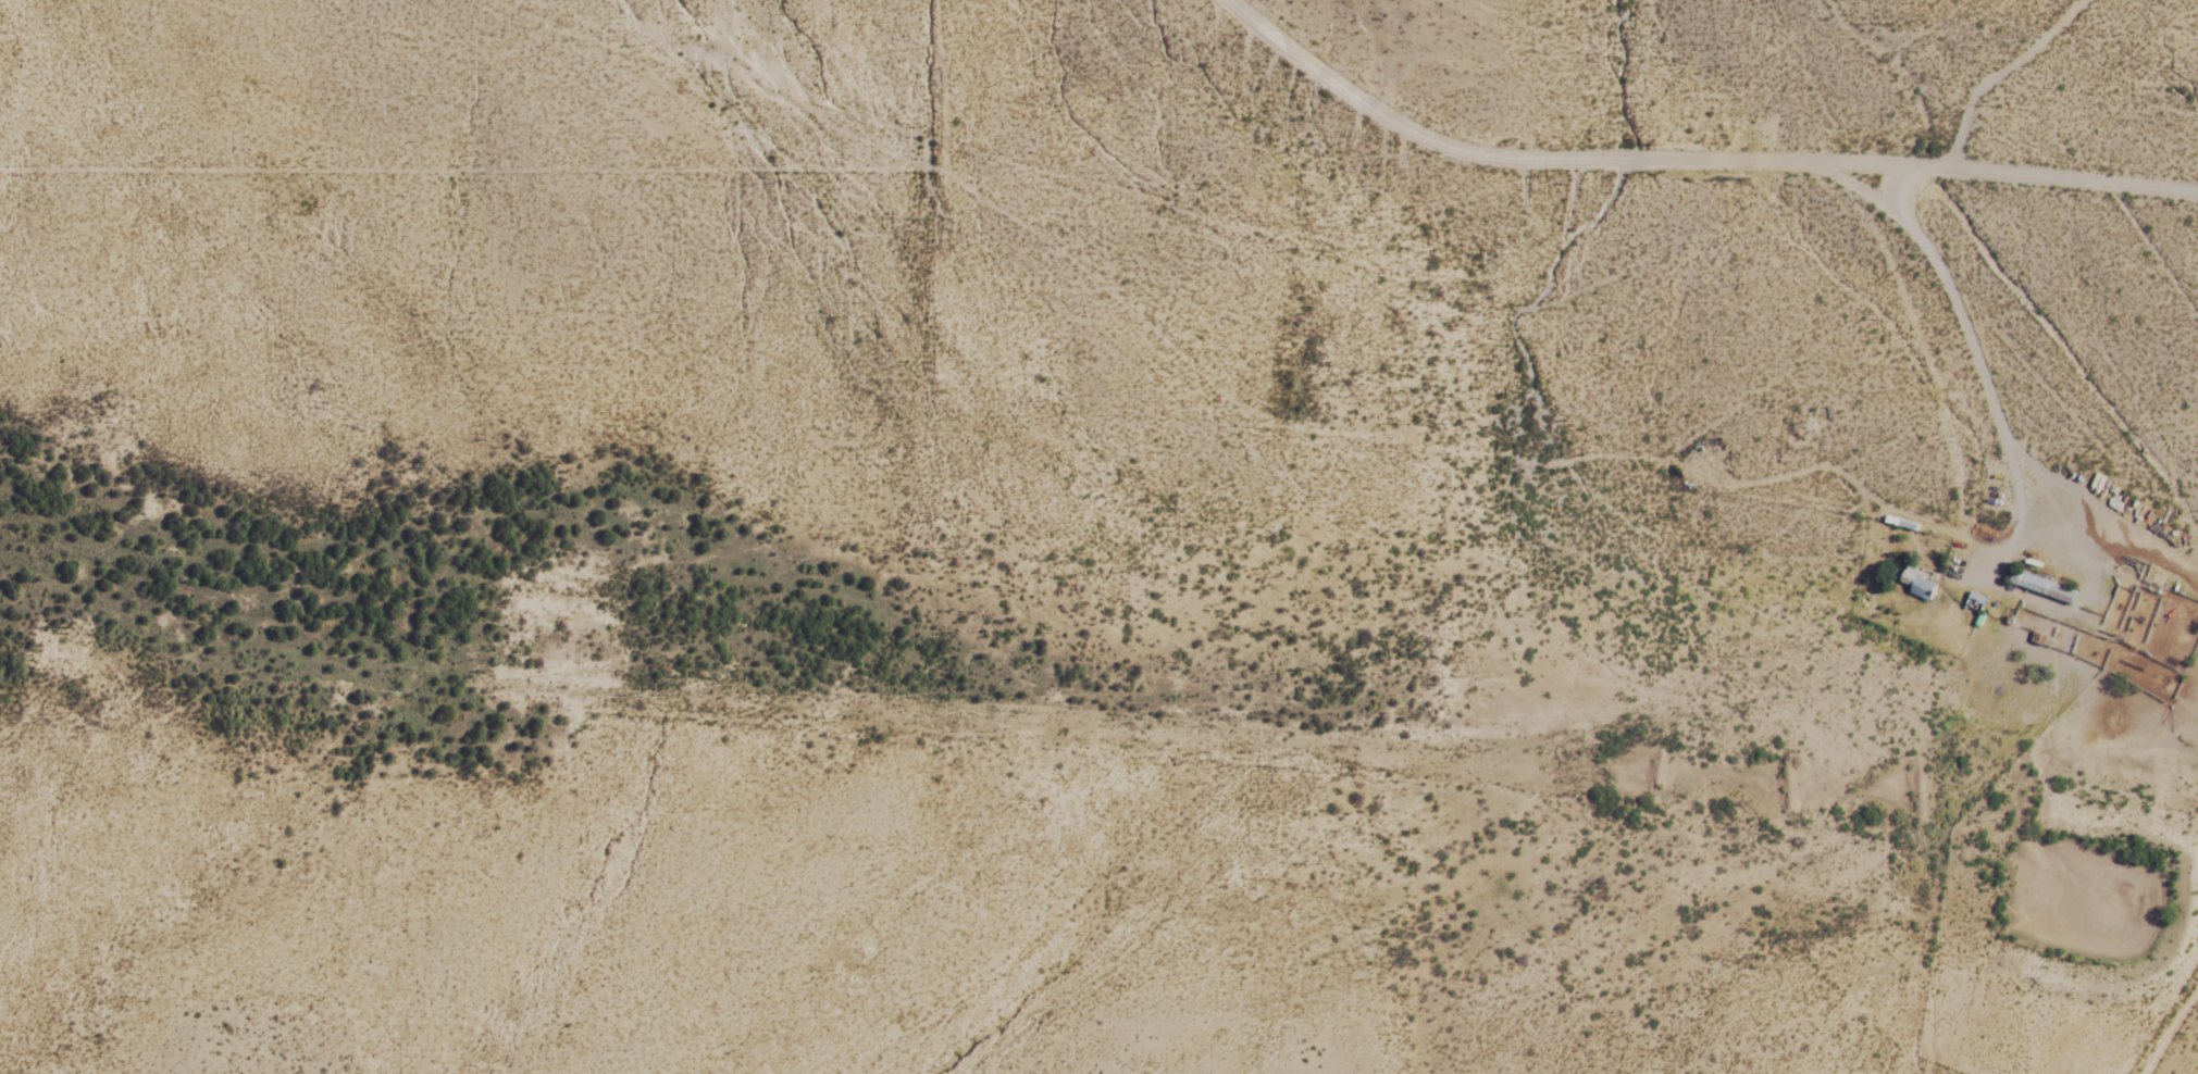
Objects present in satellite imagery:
road: (2014, 77)
road: (1686, 163)
road: (1980, 317)
airport runway: (823, 705)
road: (2170, 1028)

